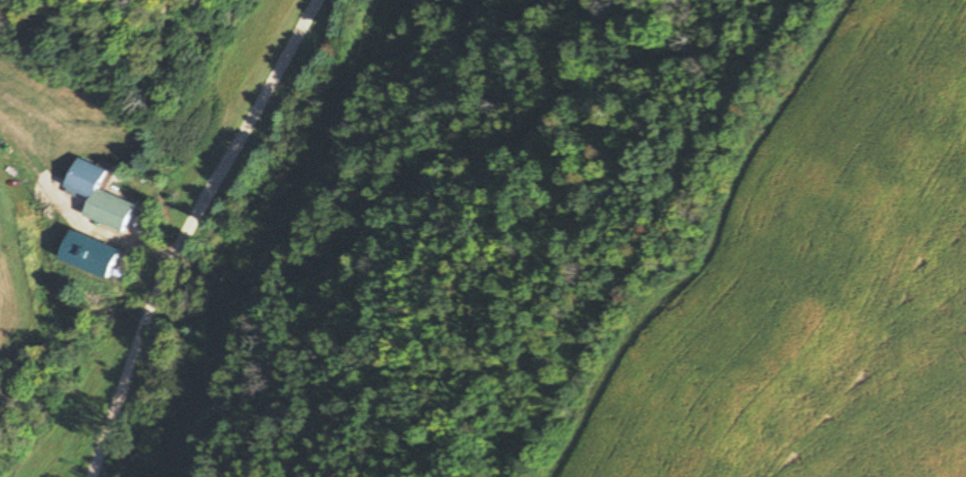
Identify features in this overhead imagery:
road: (29, 164)
building: (87, 179)
building: (108, 211)
road: (187, 230)
road: (112, 233)

